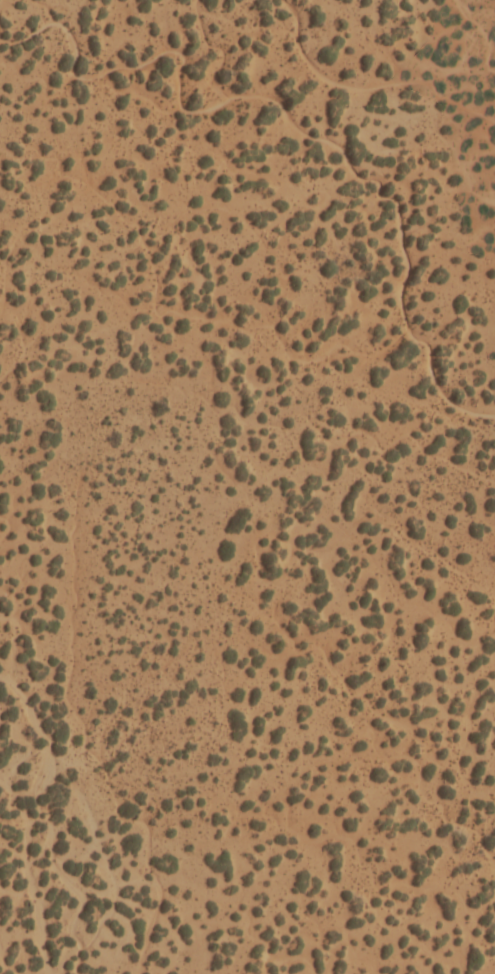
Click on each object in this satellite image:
building: (118, 259)
building: (265, 266)
building: (347, 632)
building: (429, 772)

